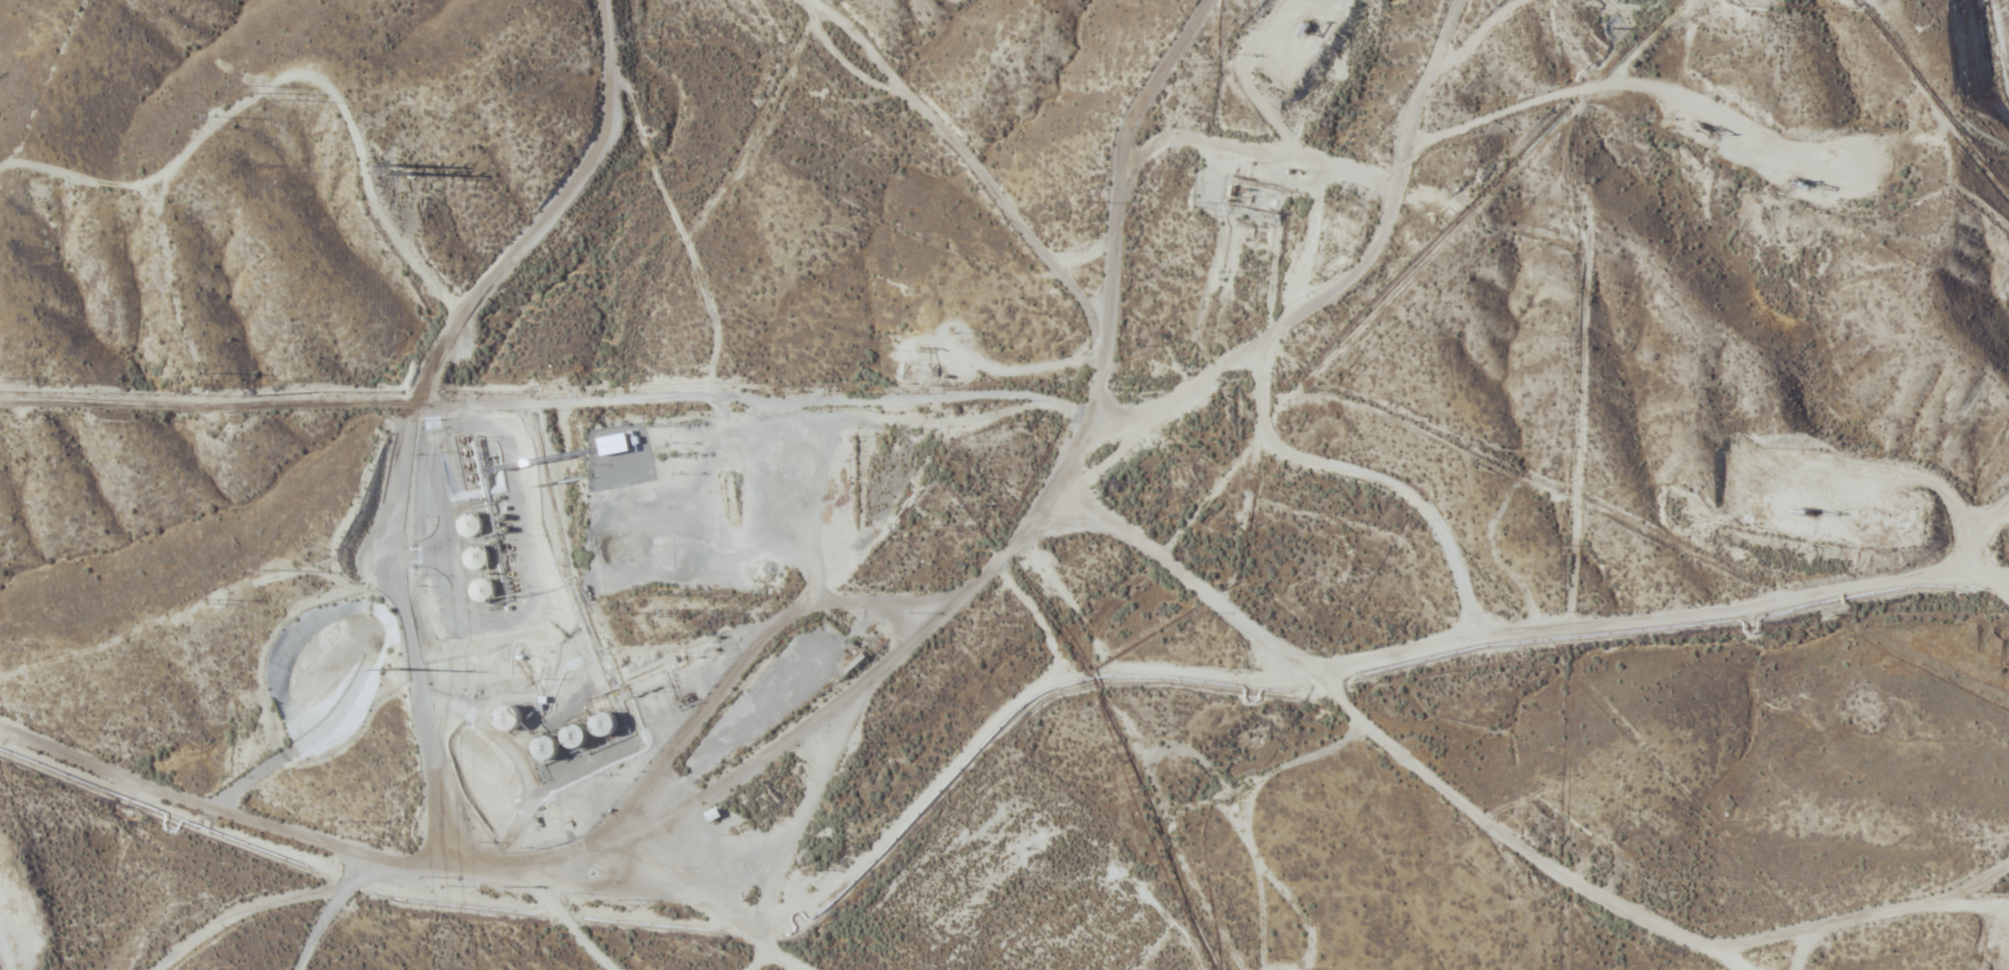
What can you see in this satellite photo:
road: (1155, 14)
power tower: (282, 114)
power tower: (414, 172)
road: (386, 472)
building: (638, 493)
power tower: (284, 577)
road: (1035, 581)
road: (1638, 651)
power tower: (402, 670)
building: (597, 723)
building: (570, 734)
building: (539, 746)
road: (1271, 765)
road: (76, 937)
road: (1986, 957)

